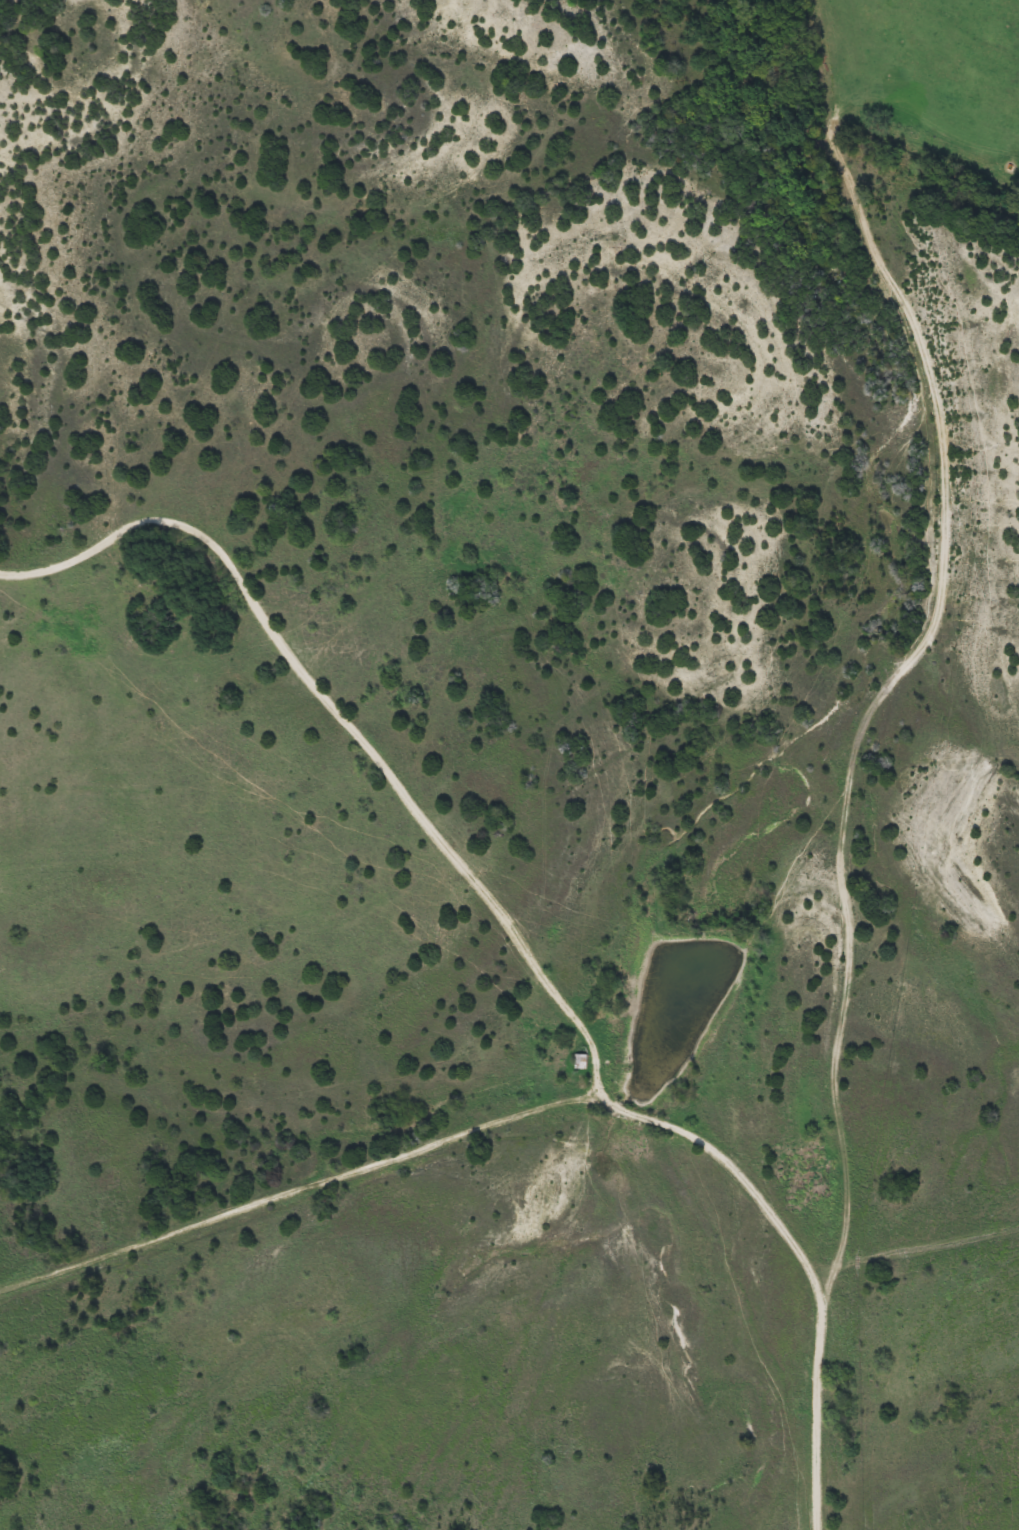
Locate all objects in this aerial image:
road: (344, 729)
road: (838, 851)
road: (553, 1096)

